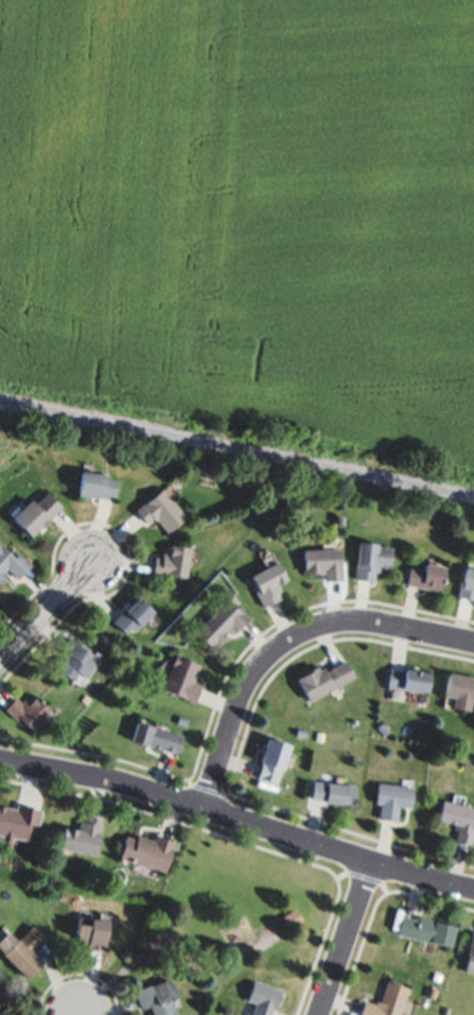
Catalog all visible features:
crop: (245, 215)
park: (9, 439)
railway: (236, 449)
building: (96, 485)
building: (161, 509)
building: (36, 513)
building: (371, 559)
building: (172, 562)
building: (323, 563)
building: (12, 564)
building: (425, 576)
building: (268, 583)
building: (467, 584)
road: (44, 610)
building: (133, 614)
building: (222, 621)
road: (288, 639)
building: (78, 659)
building: (183, 679)
building: (325, 679)
building: (409, 679)
building: (460, 690)
building: (29, 710)
building: (301, 732)
building: (157, 736)
building: (273, 761)
building: (334, 792)
building: (392, 799)
road: (238, 817)
building: (458, 819)
building: (18, 822)
building: (84, 836)
building: (148, 851)
park: (243, 911)
building: (294, 917)
building: (426, 930)
building: (93, 933)
road: (348, 937)
building: (246, 941)
building: (22, 950)
building: (470, 955)
road: (116, 972)
building: (2, 997)
building: (156, 998)
building: (263, 998)
building: (386, 1001)
building: (2, 1006)
building: (446, 1010)

